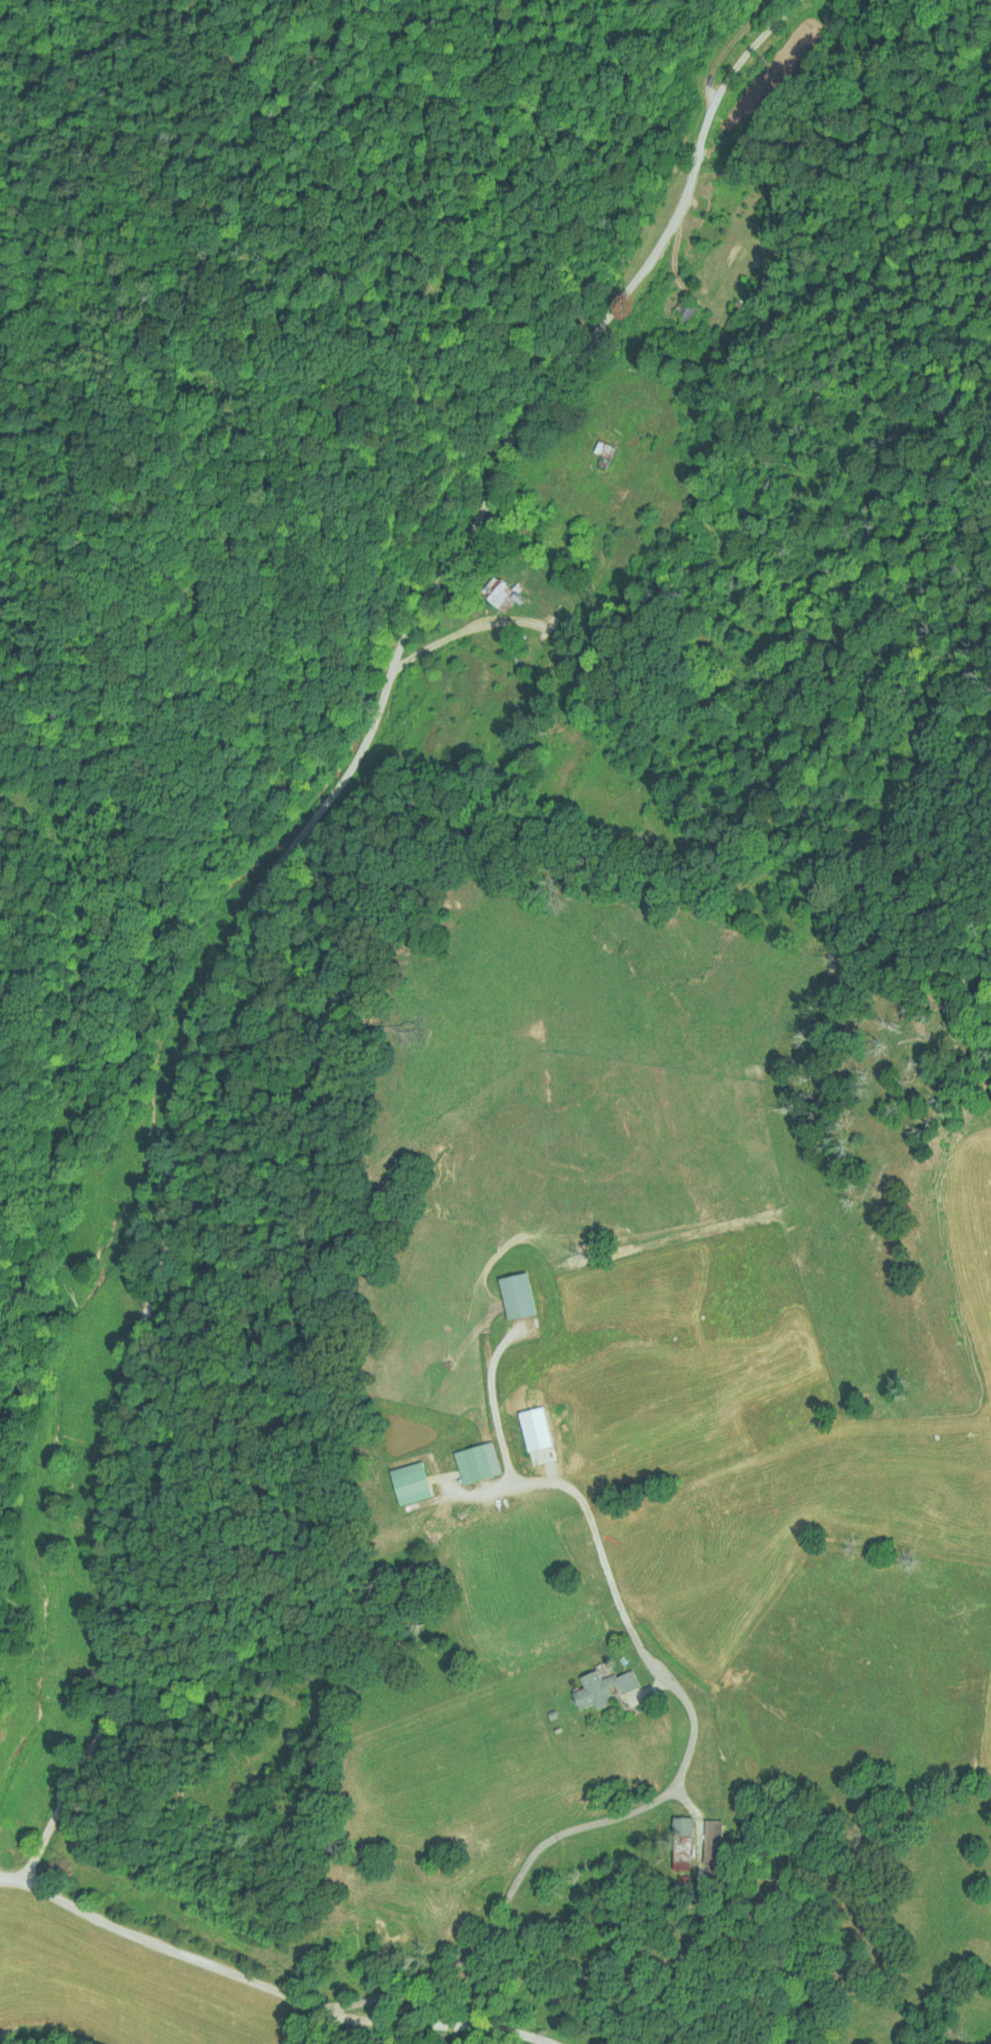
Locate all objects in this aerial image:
building: (683, 312)
building: (601, 453)
building: (496, 593)
road: (343, 879)
building: (517, 1294)
building: (522, 1440)
building: (476, 1461)
building: (409, 1483)
building: (82, 1678)
building: (603, 1687)
road: (674, 1773)
building: (710, 1841)
building: (680, 1843)
road: (266, 1979)

